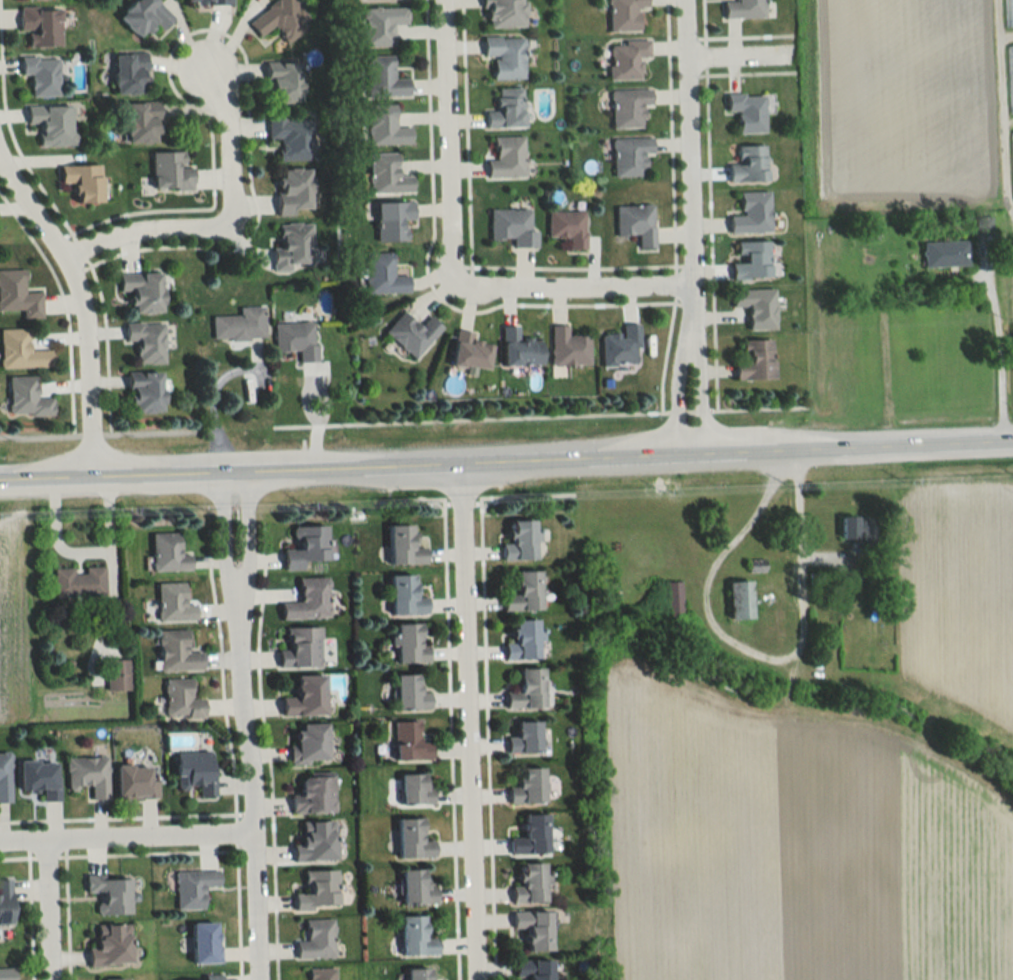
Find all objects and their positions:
building: (206, 2)
building: (743, 9)
building: (503, 13)
building: (1008, 13)
building: (623, 14)
building: (145, 16)
building: (280, 19)
building: (381, 24)
building: (41, 25)
building: (505, 56)
road: (741, 57)
building: (626, 60)
building: (129, 73)
building: (42, 75)
building: (382, 78)
building: (1010, 78)
building: (283, 82)
crop: (907, 97)
building: (628, 107)
building: (506, 109)
building: (747, 112)
road: (999, 113)
building: (142, 122)
building: (53, 124)
building: (385, 126)
road: (444, 132)
building: (291, 136)
building: (629, 156)
building: (506, 158)
building: (748, 164)
building: (1012, 165)
building: (170, 170)
road: (687, 173)
building: (386, 175)
building: (83, 181)
building: (293, 190)
building: (751, 213)
road: (226, 219)
building: (392, 220)
building: (636, 224)
building: (511, 226)
building: (567, 227)
building: (292, 246)
building: (944, 253)
building: (750, 260)
building: (382, 274)
building: (143, 290)
road: (561, 291)
building: (18, 294)
road: (81, 302)
building: (757, 307)
building: (239, 324)
building: (411, 333)
building: (295, 339)
building: (147, 341)
road: (998, 344)
building: (519, 347)
building: (568, 347)
building: (620, 347)
road: (687, 348)
building: (21, 350)
building: (469, 351)
building: (754, 360)
building: (145, 392)
building: (27, 398)
road: (211, 407)
road: (541, 414)
road: (97, 429)
road: (506, 462)
building: (855, 527)
building: (520, 541)
building: (403, 546)
building: (306, 547)
building: (168, 553)
building: (847, 579)
road: (235, 581)
building: (78, 582)
building: (524, 593)
building: (405, 596)
crop: (961, 596)
building: (308, 600)
building: (740, 600)
building: (174, 603)
building: (523, 641)
building: (409, 644)
building: (301, 647)
road: (750, 651)
building: (177, 652)
building: (118, 675)
building: (527, 690)
building: (409, 693)
building: (306, 697)
building: (181, 700)
road: (464, 722)
building: (525, 739)
building: (410, 743)
building: (309, 745)
building: (195, 773)
building: (89, 776)
building: (5, 777)
building: (39, 778)
road: (250, 780)
building: (136, 783)
building: (528, 787)
building: (415, 790)
building: (314, 796)
road: (127, 835)
building: (532, 837)
building: (413, 841)
building: (316, 843)
crop: (794, 844)
building: (532, 885)
building: (193, 888)
building: (416, 889)
building: (318, 892)
building: (110, 894)
building: (5, 902)
road: (49, 908)
building: (535, 929)
building: (416, 937)
building: (317, 940)
building: (205, 943)
building: (111, 946)
building: (534, 969)
building: (7, 974)
building: (322, 974)
building: (418, 974)
building: (213, 977)
building: (113, 979)

